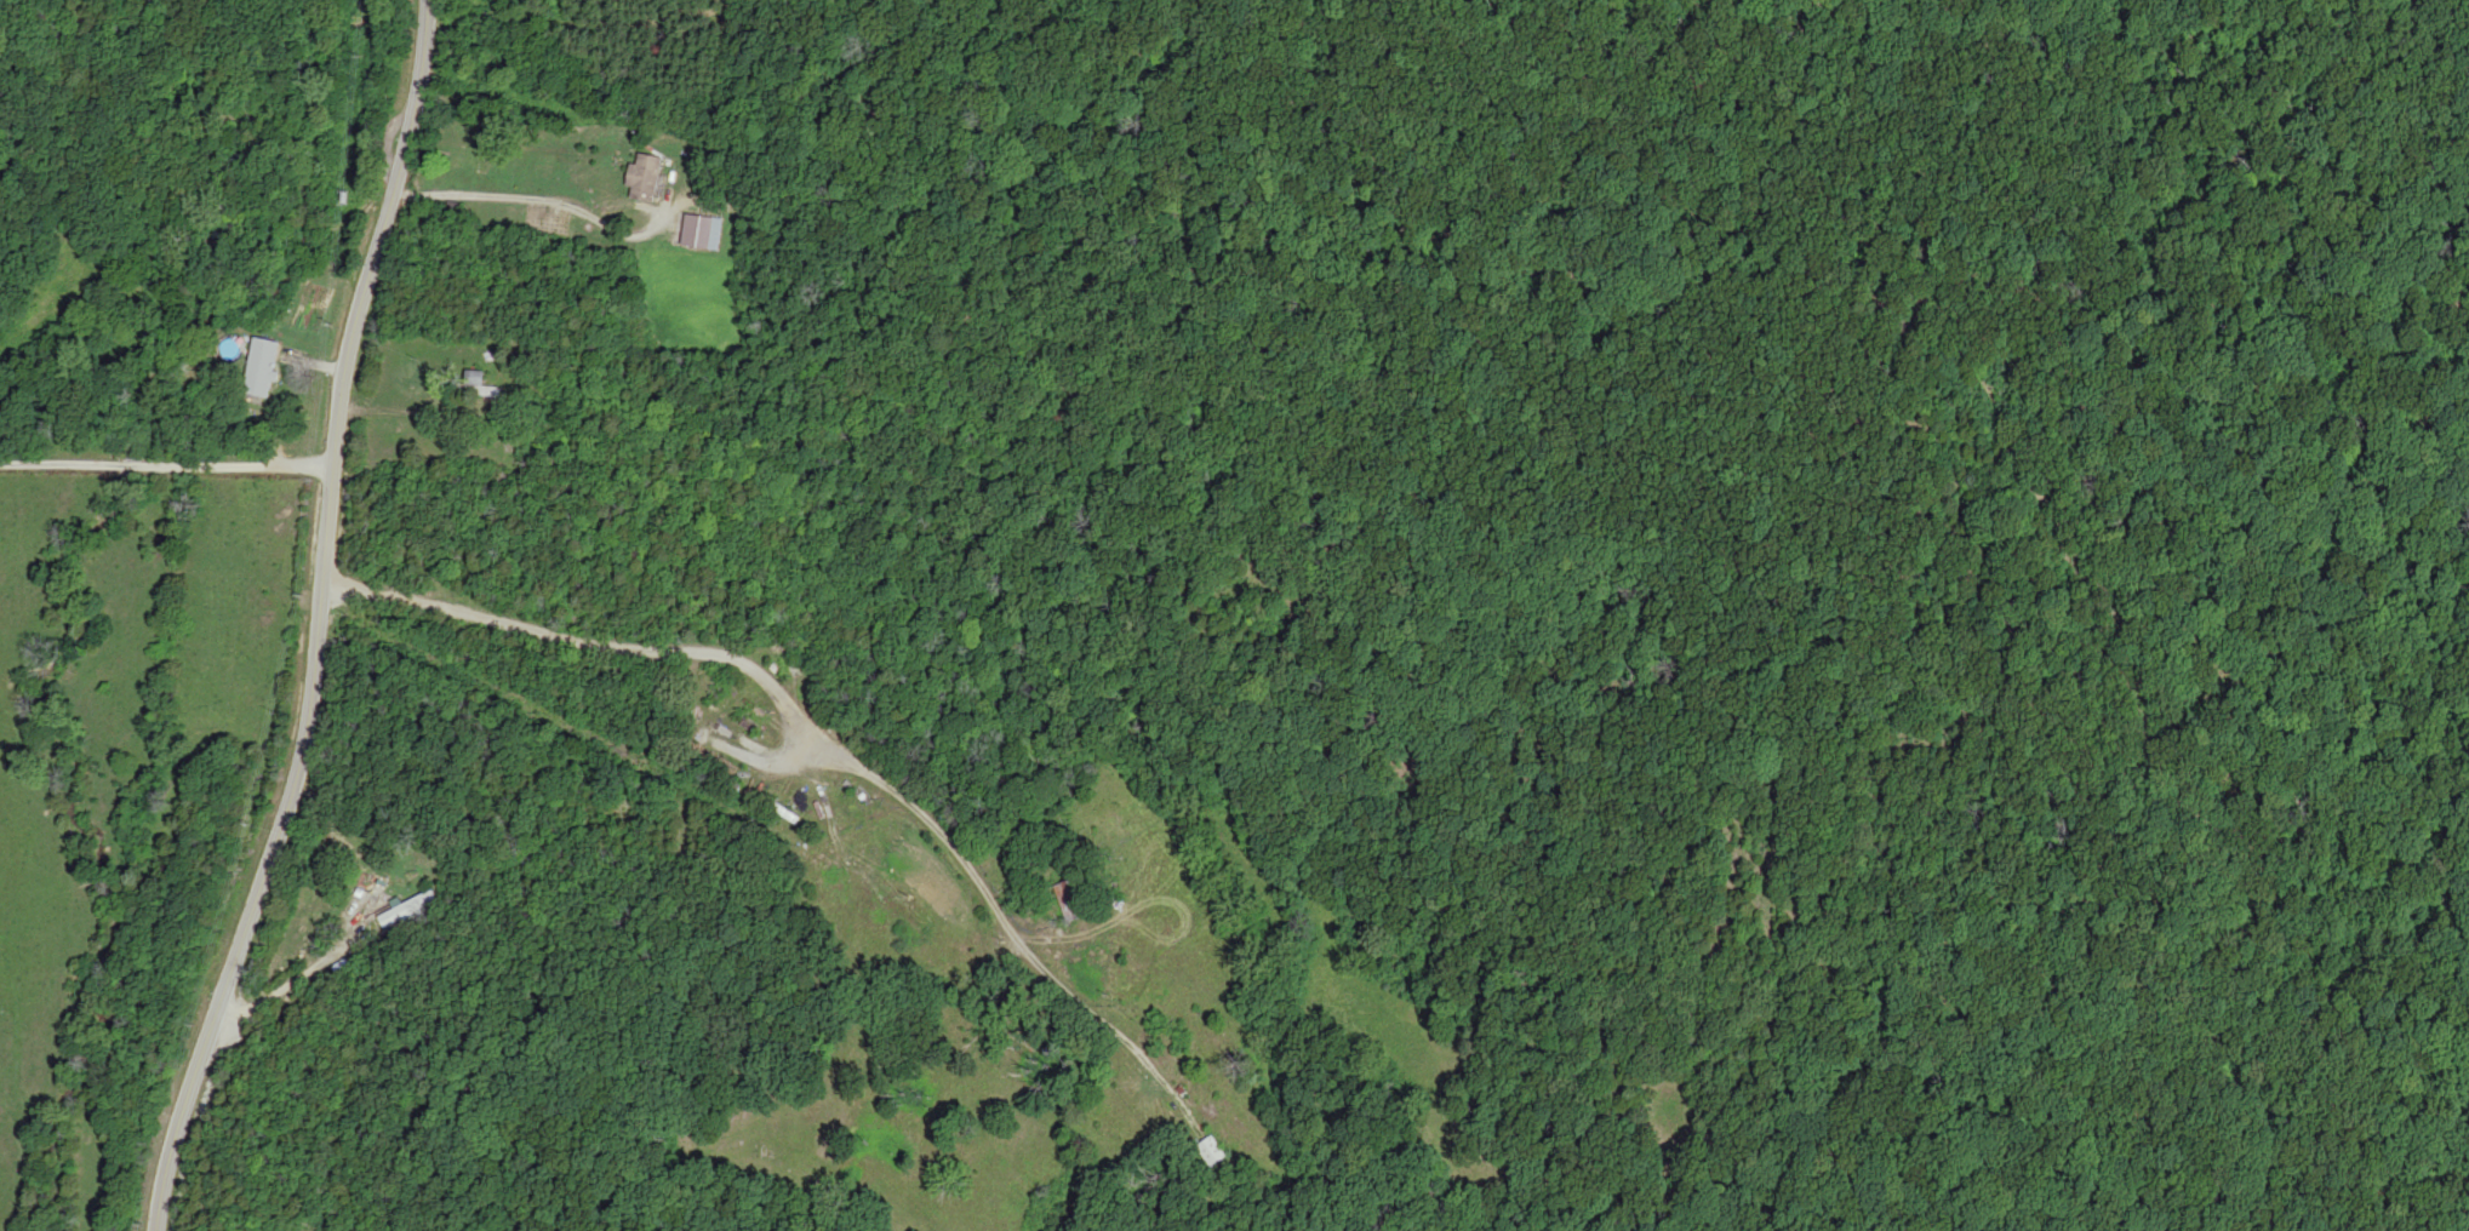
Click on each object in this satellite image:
road: (207, 78)
road: (527, 99)
building: (646, 178)
building: (699, 231)
building: (261, 367)
building: (480, 387)
road: (558, 453)
road: (165, 468)
park: (1822, 476)
road: (498, 528)
road: (318, 620)
road: (2093, 623)
road: (659, 658)
building: (1071, 900)
building: (410, 911)
building: (1145, 1065)
building: (1212, 1152)

